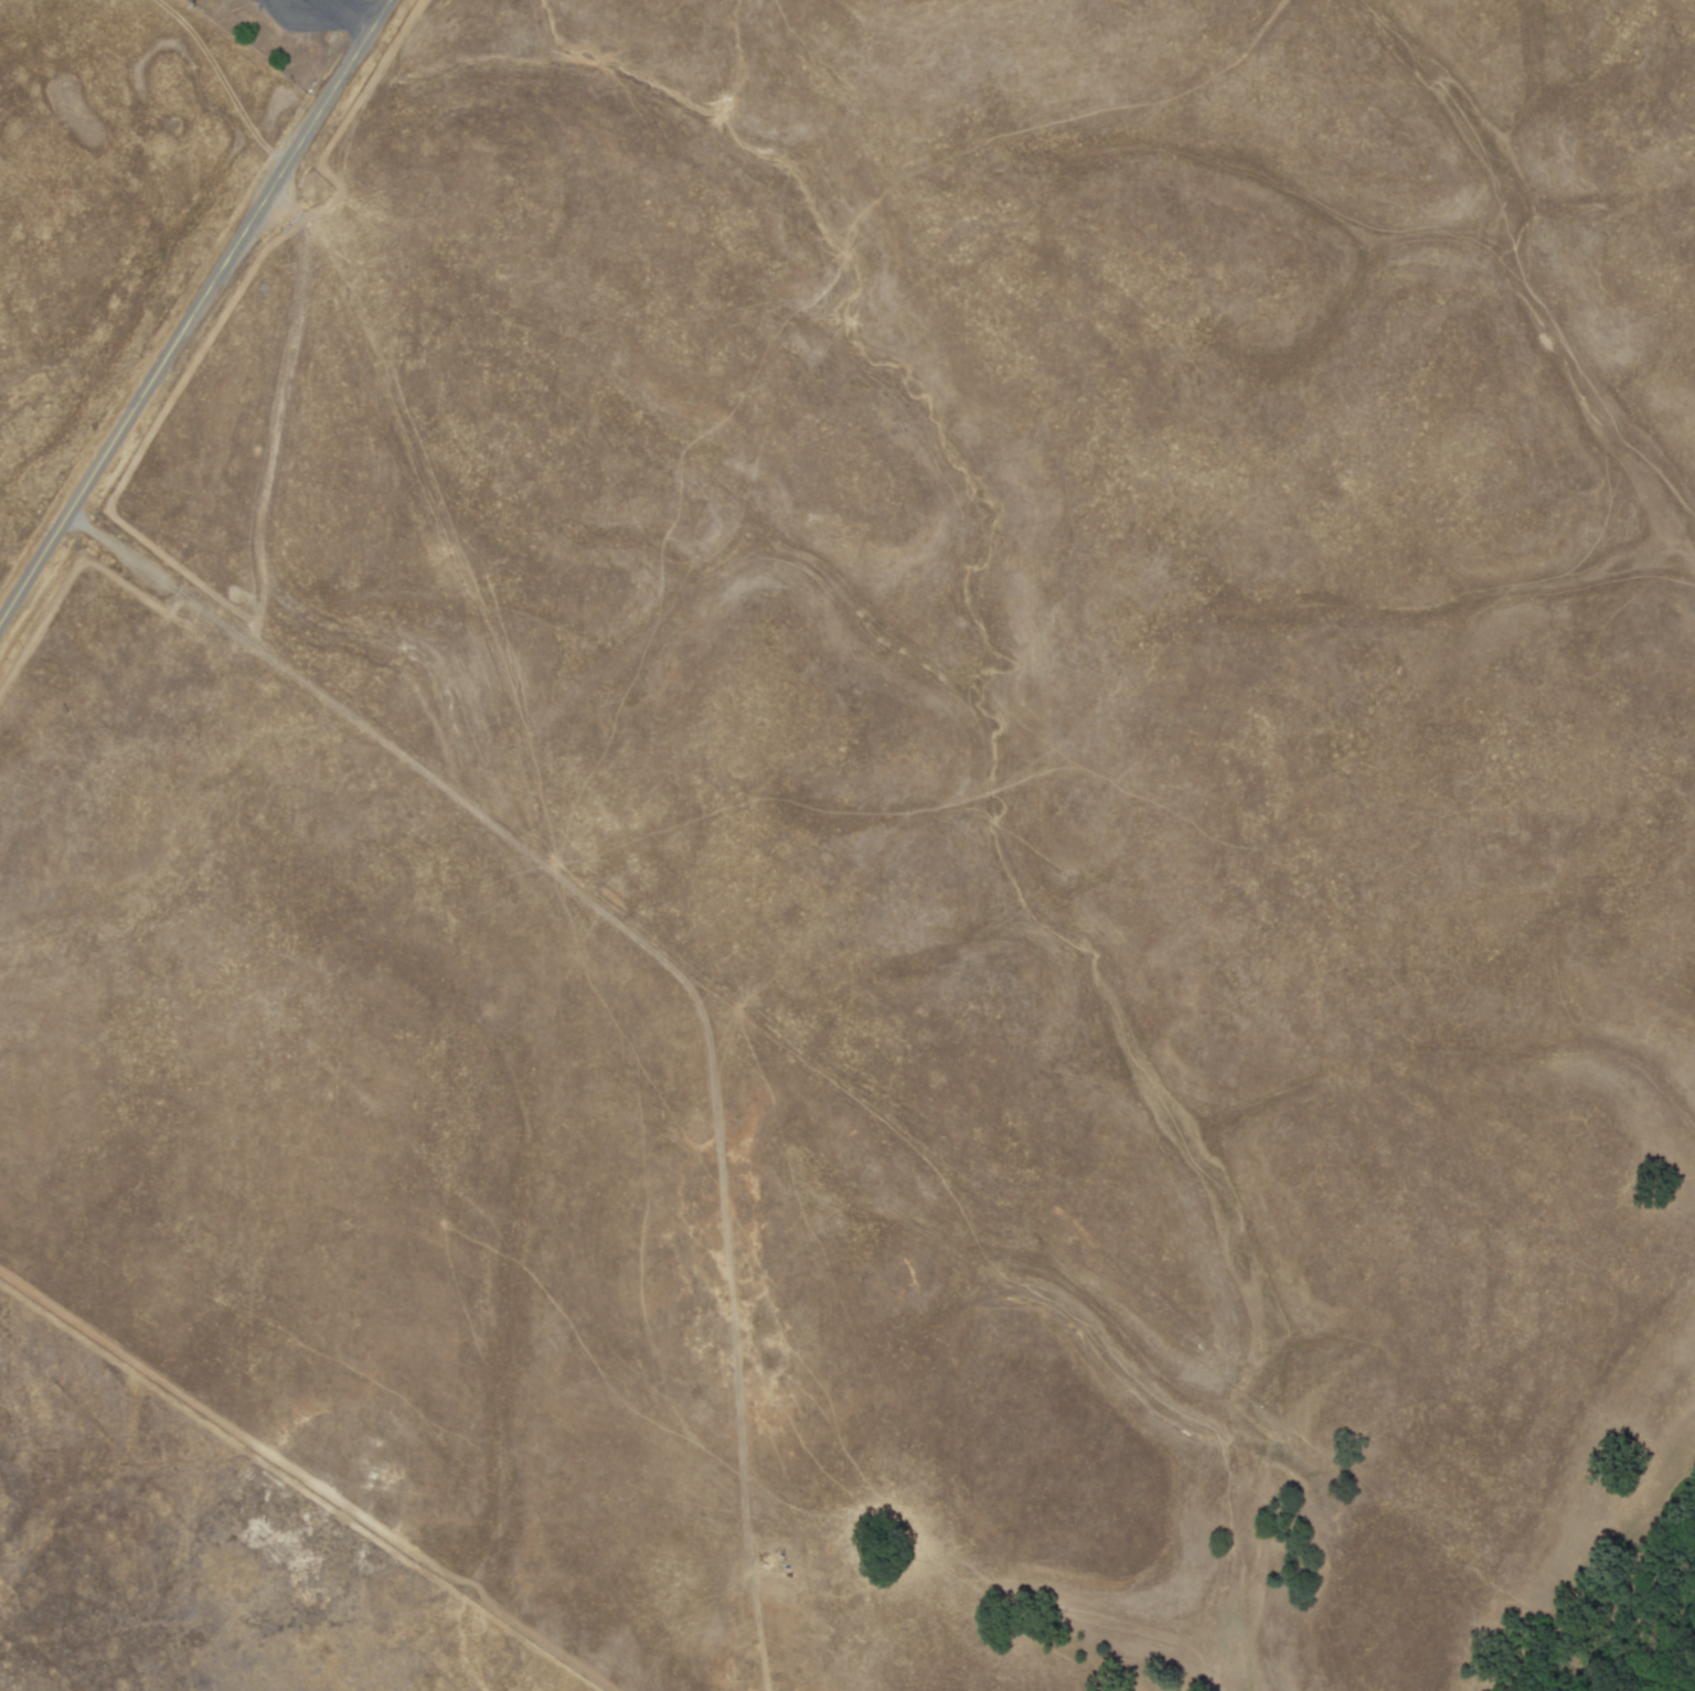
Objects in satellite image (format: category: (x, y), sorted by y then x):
road: (355, 12)
road: (194, 312)

